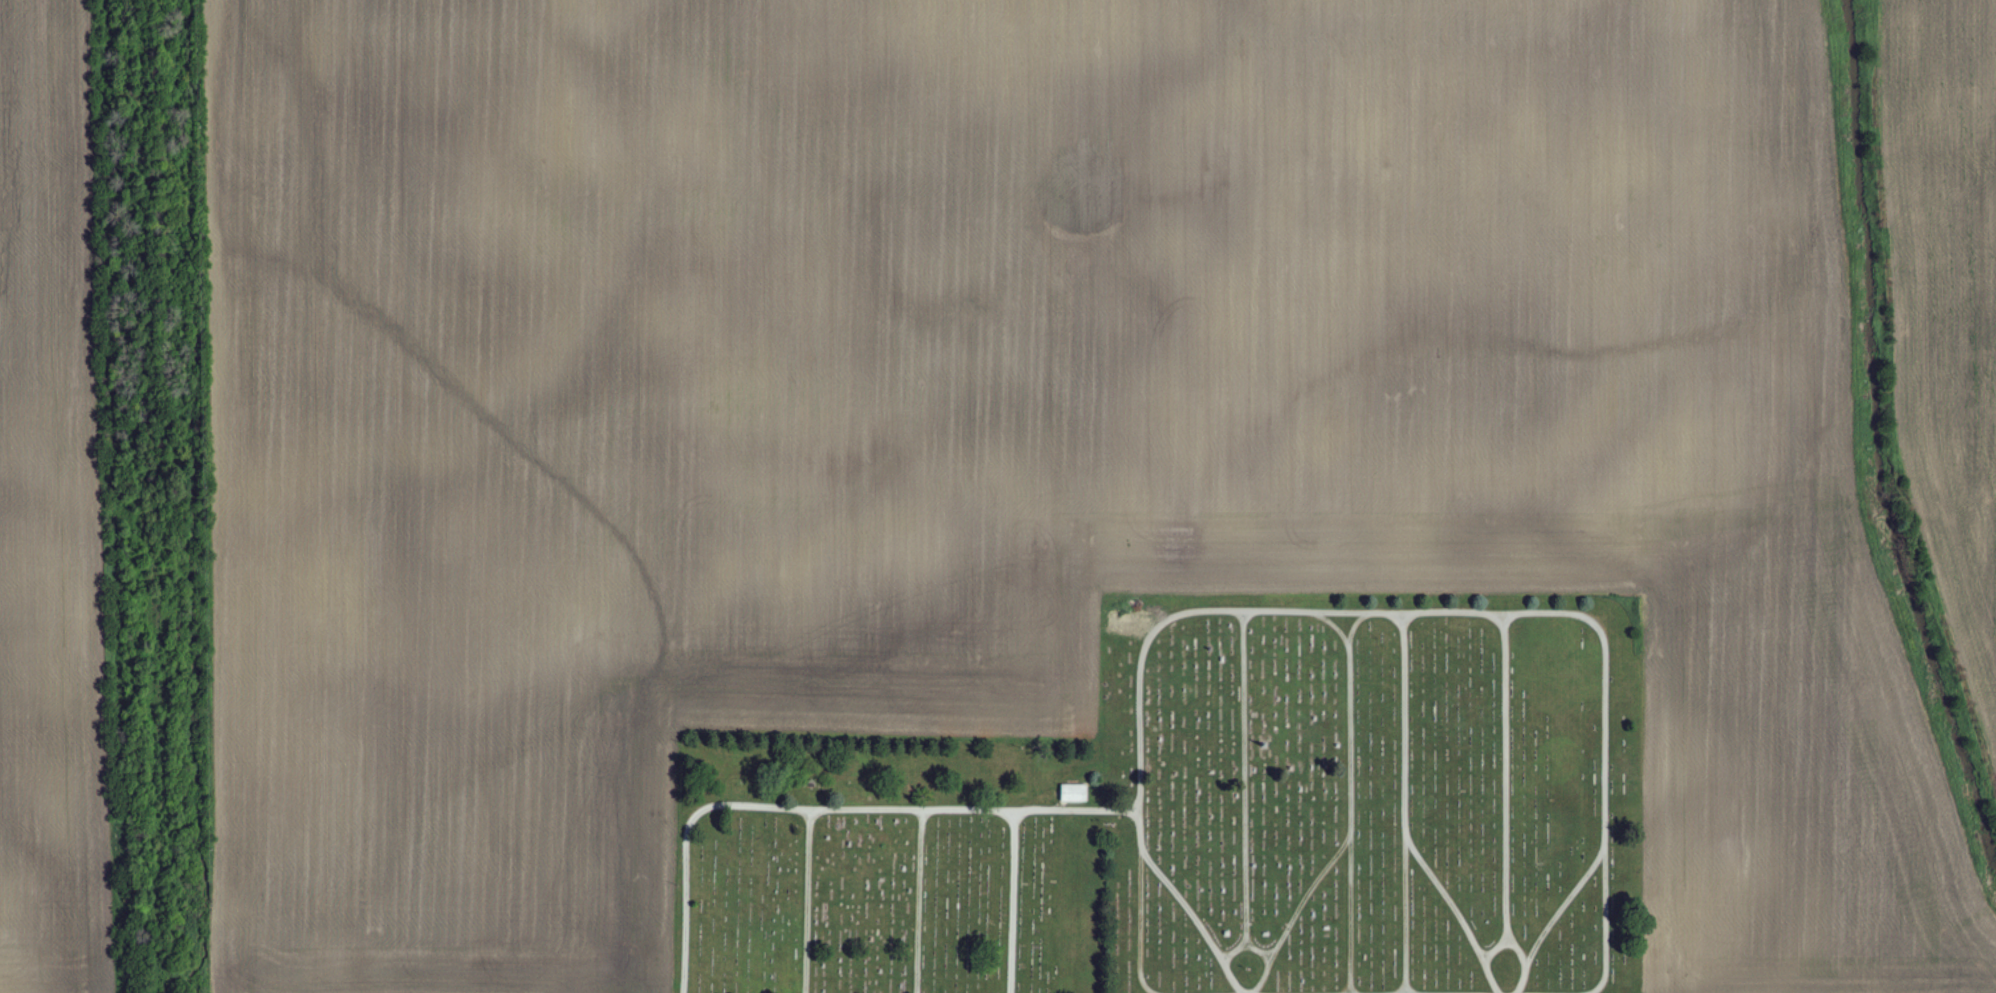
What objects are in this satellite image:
park: (1373, 794)
building: (1073, 796)
park: (891, 863)

